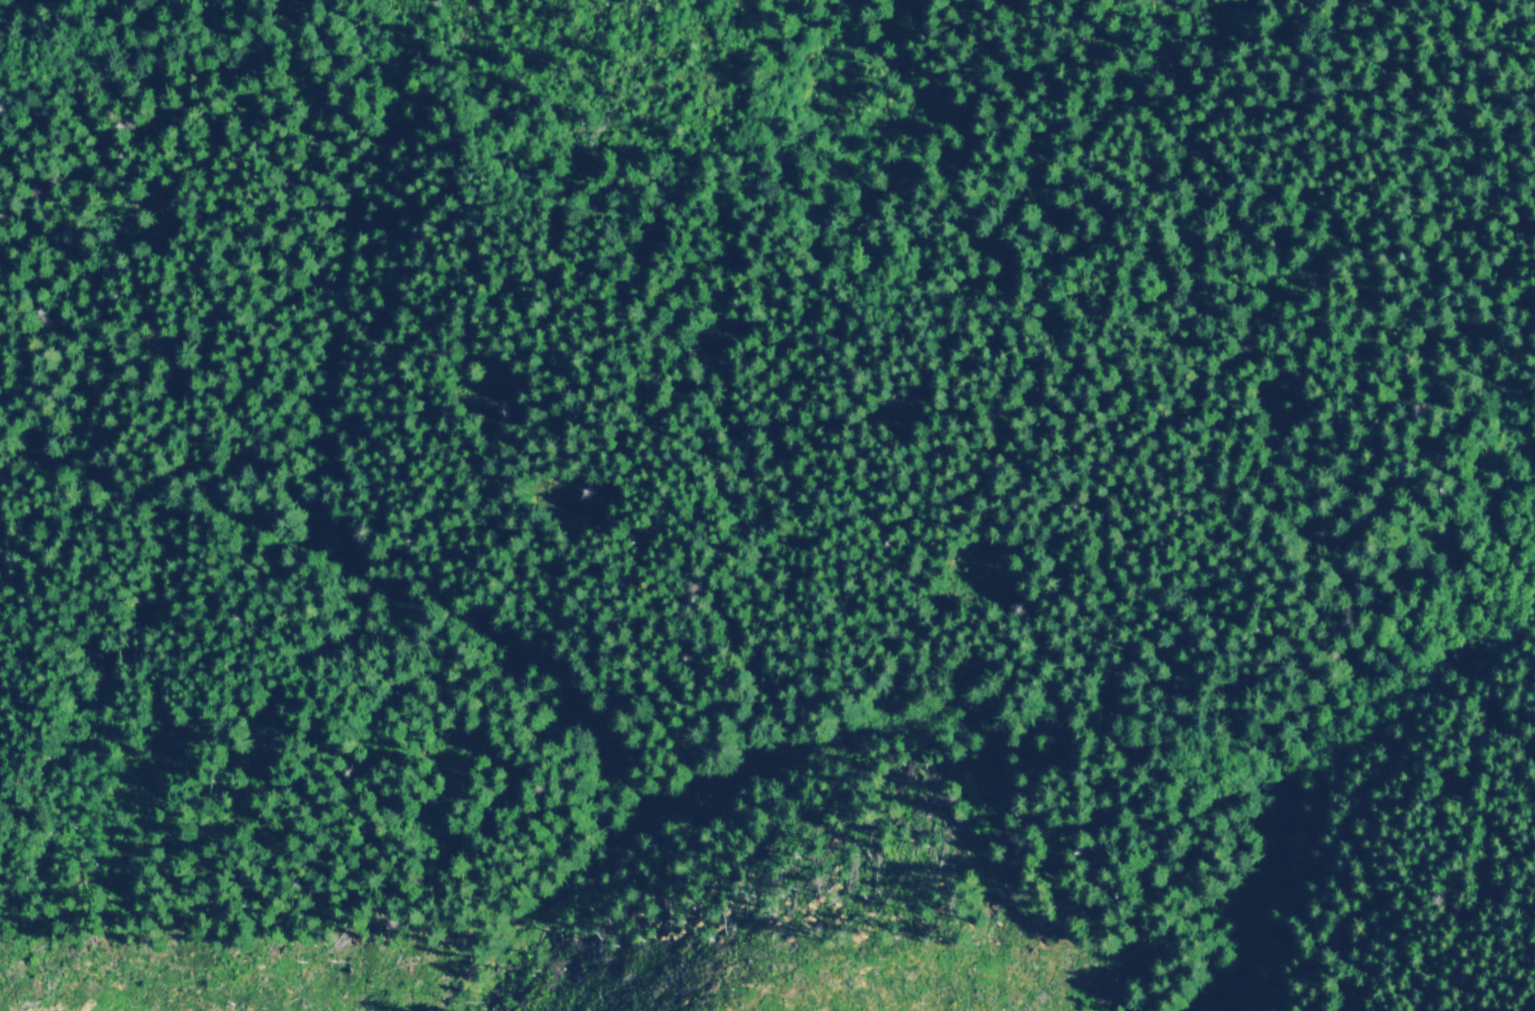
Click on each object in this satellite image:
road: (486, 86)
park: (773, 491)

